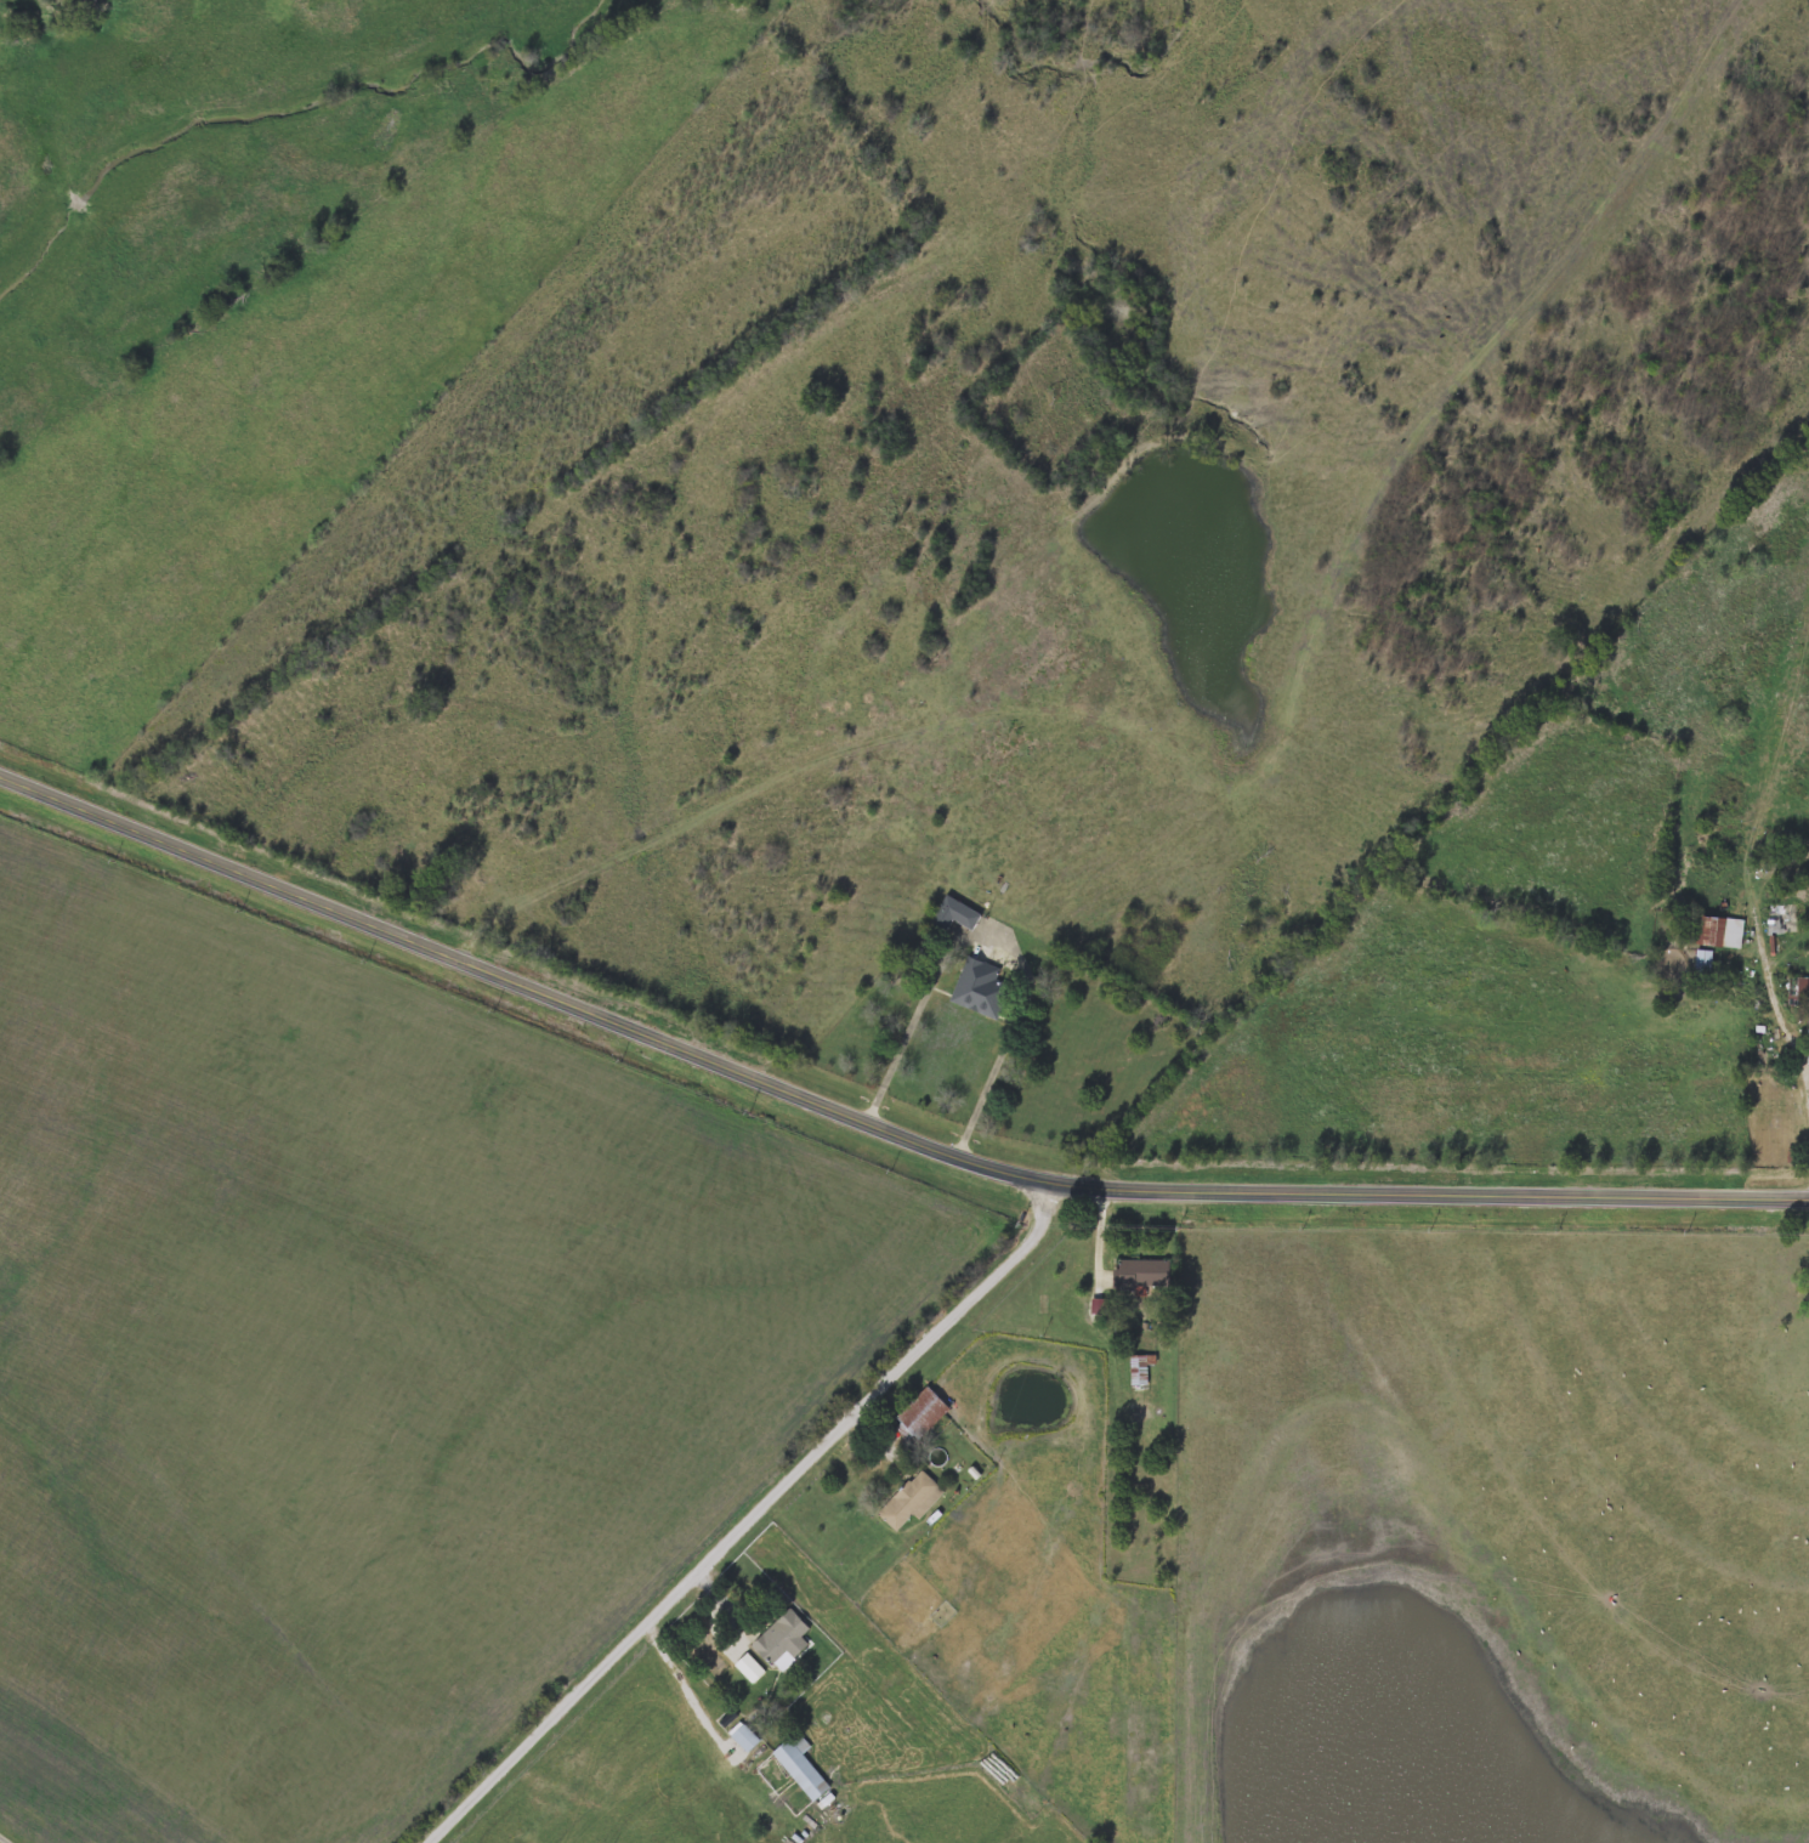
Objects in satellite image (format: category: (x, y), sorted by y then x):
building: (953, 913)
road: (1000, 937)
building: (1712, 938)
building: (980, 988)
building: (1797, 991)
road: (1780, 1019)
building: (1807, 1030)
road: (875, 1123)
building: (1140, 1275)
building: (1139, 1370)
building: (920, 1413)
road: (988, 1447)
building: (911, 1499)
road: (755, 1518)
road: (728, 1594)
building: (781, 1639)
building: (744, 1737)
building: (800, 1767)
road: (6, 1838)

